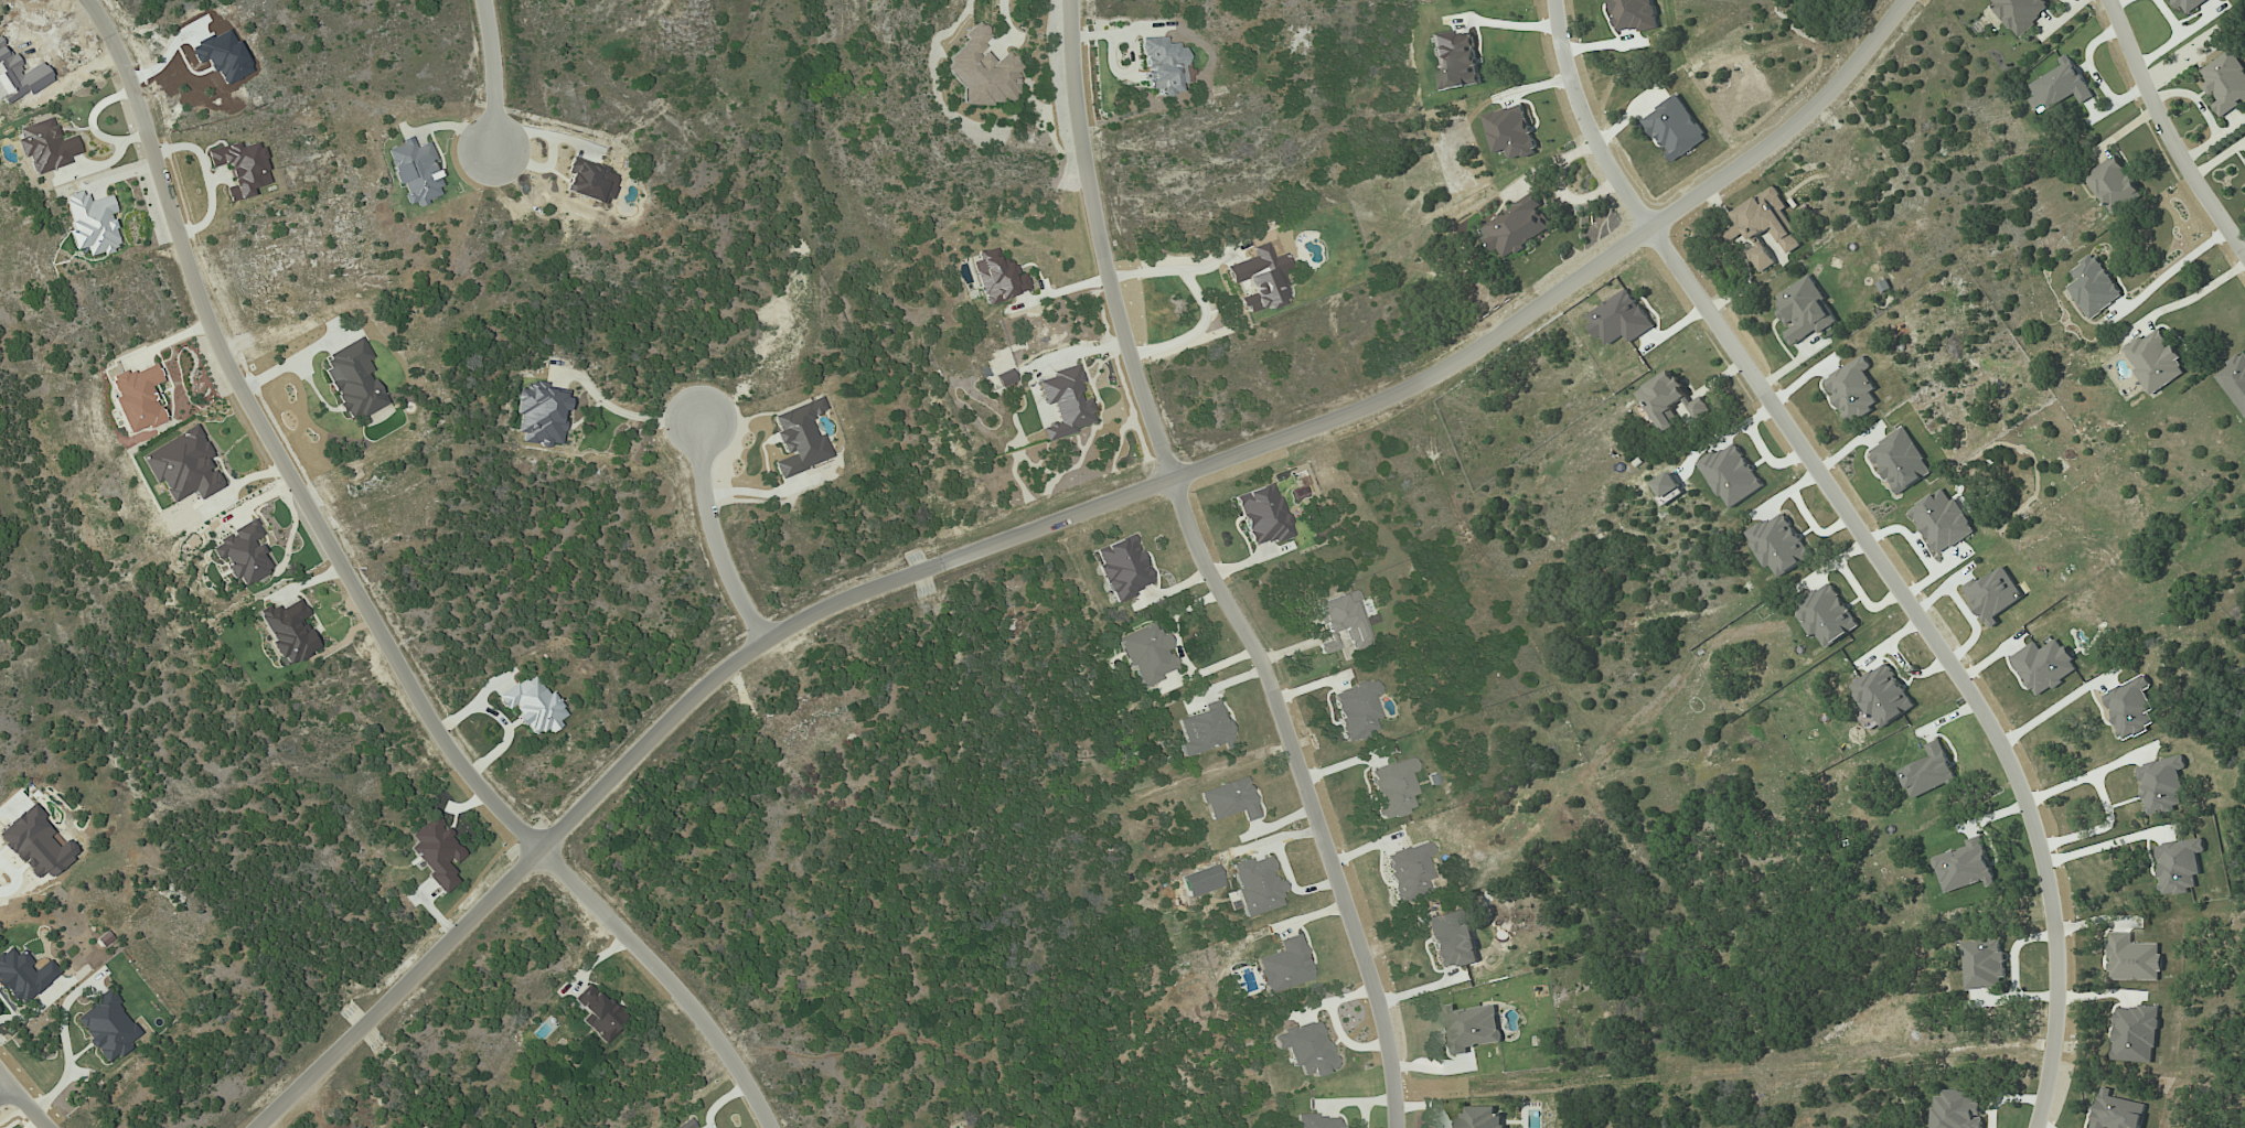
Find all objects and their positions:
building: (2188, 6)
building: (2020, 12)
road: (1006, 14)
building: (1159, 65)
building: (981, 71)
road: (494, 75)
building: (2225, 82)
building: (2059, 86)
building: (1675, 127)
building: (1511, 132)
road: (2166, 133)
building: (44, 147)
building: (239, 168)
building: (414, 171)
road: (206, 179)
building: (590, 182)
building: (2114, 185)
building: (90, 224)
building: (1517, 226)
building: (1764, 226)
road: (2174, 269)
building: (995, 278)
building: (1259, 279)
building: (2093, 287)
road: (1059, 292)
road: (1201, 297)
road: (2190, 298)
building: (1805, 311)
building: (1621, 318)
building: (2155, 361)
building: (1003, 378)
building: (352, 380)
building: (2235, 380)
building: (1853, 390)
building: (137, 398)
building: (1669, 400)
building: (1062, 402)
road: (633, 413)
building: (539, 416)
building: (798, 439)
building: (1901, 461)
building: (181, 466)
building: (1731, 474)
building: (1668, 487)
building: (1262, 515)
building: (1943, 522)
road: (1052, 523)
road: (715, 536)
building: (1778, 544)
road: (1869, 544)
building: (242, 555)
building: (1122, 568)
road: (1207, 571)
building: (1993, 594)
road: (363, 603)
building: (1827, 614)
building: (1343, 622)
building: (287, 631)
building: (1146, 654)
building: (2044, 665)
building: (1882, 695)
building: (532, 706)
building: (2130, 707)
road: (2051, 708)
building: (1356, 710)
building: (1201, 730)
building: (1929, 771)
building: (2161, 785)
building: (1393, 787)
road: (2104, 799)
building: (1228, 801)
road: (2102, 847)
building: (436, 853)
building: (2179, 864)
building: (1965, 867)
building: (1408, 871)
road: (18, 878)
building: (1255, 885)
building: (1451, 938)
building: (2134, 959)
building: (1984, 964)
building: (1283, 966)
building: (22, 975)
building: (598, 1014)
building: (106, 1027)
building: (1473, 1027)
building: (2135, 1034)
building: (1305, 1049)
road: (4, 1087)
road: (22, 1100)
building: (1957, 1110)
building: (2117, 1111)
building: (1483, 1118)
building: (1317, 1121)
building: (686, 1125)

